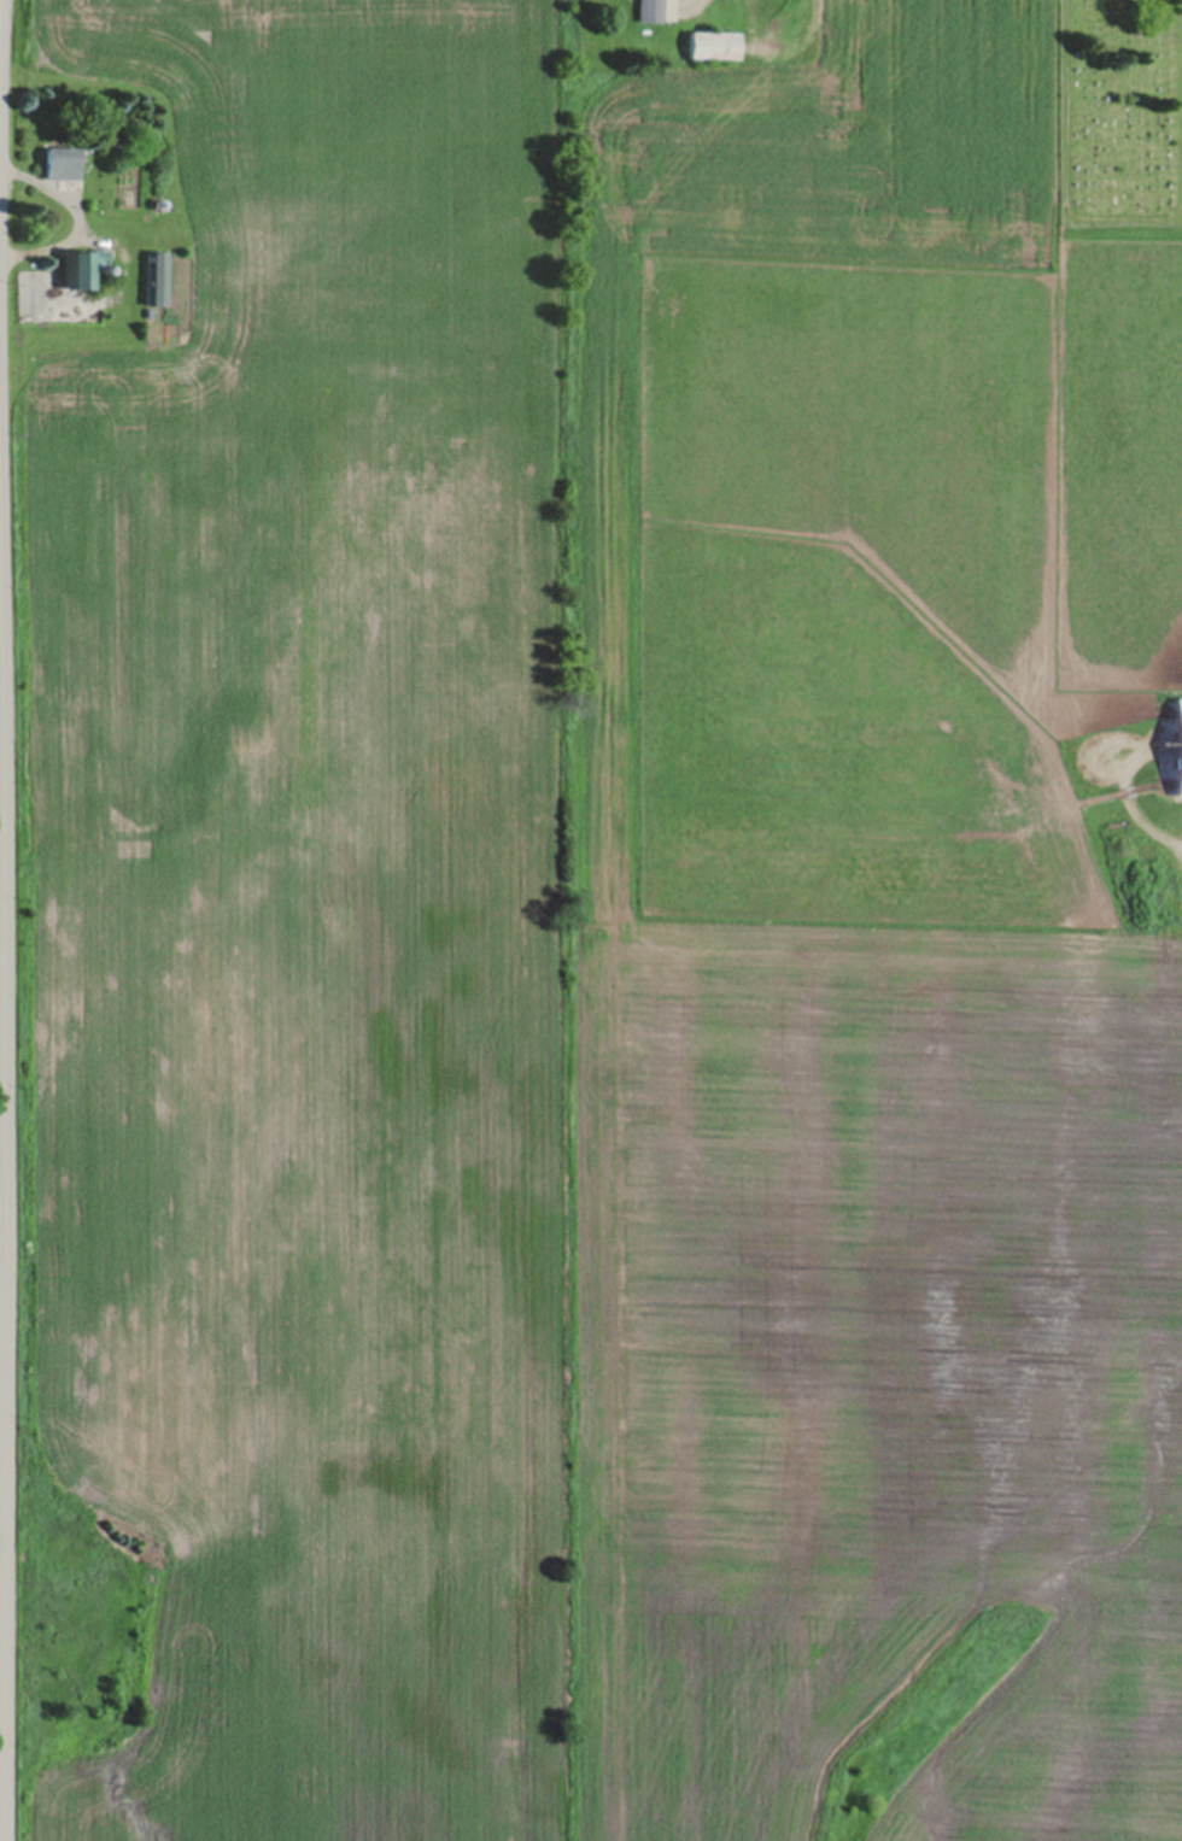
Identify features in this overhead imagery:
building: (650, 12)
building: (715, 46)
building: (64, 165)
building: (84, 269)
building: (159, 281)

